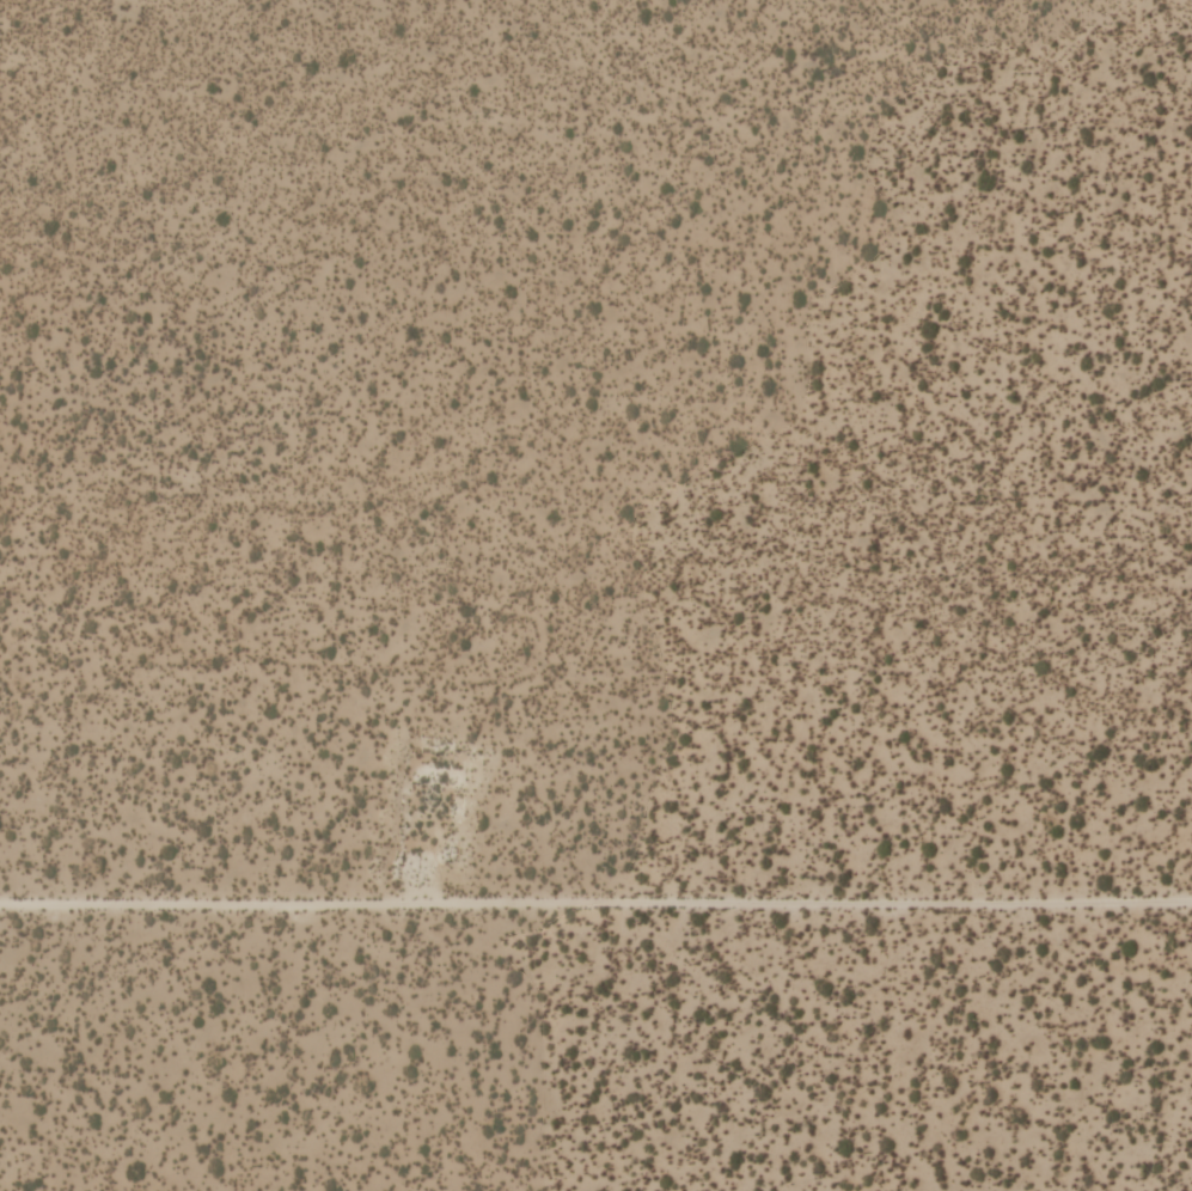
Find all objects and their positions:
road: (595, 871)

